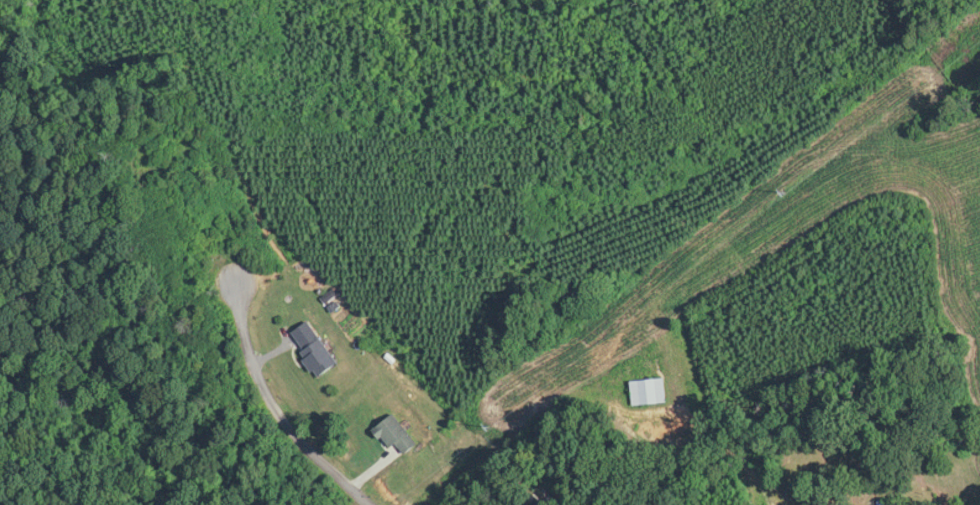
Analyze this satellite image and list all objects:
building: (319, 359)
building: (650, 392)
road: (274, 402)
building: (396, 435)
building: (886, 504)

